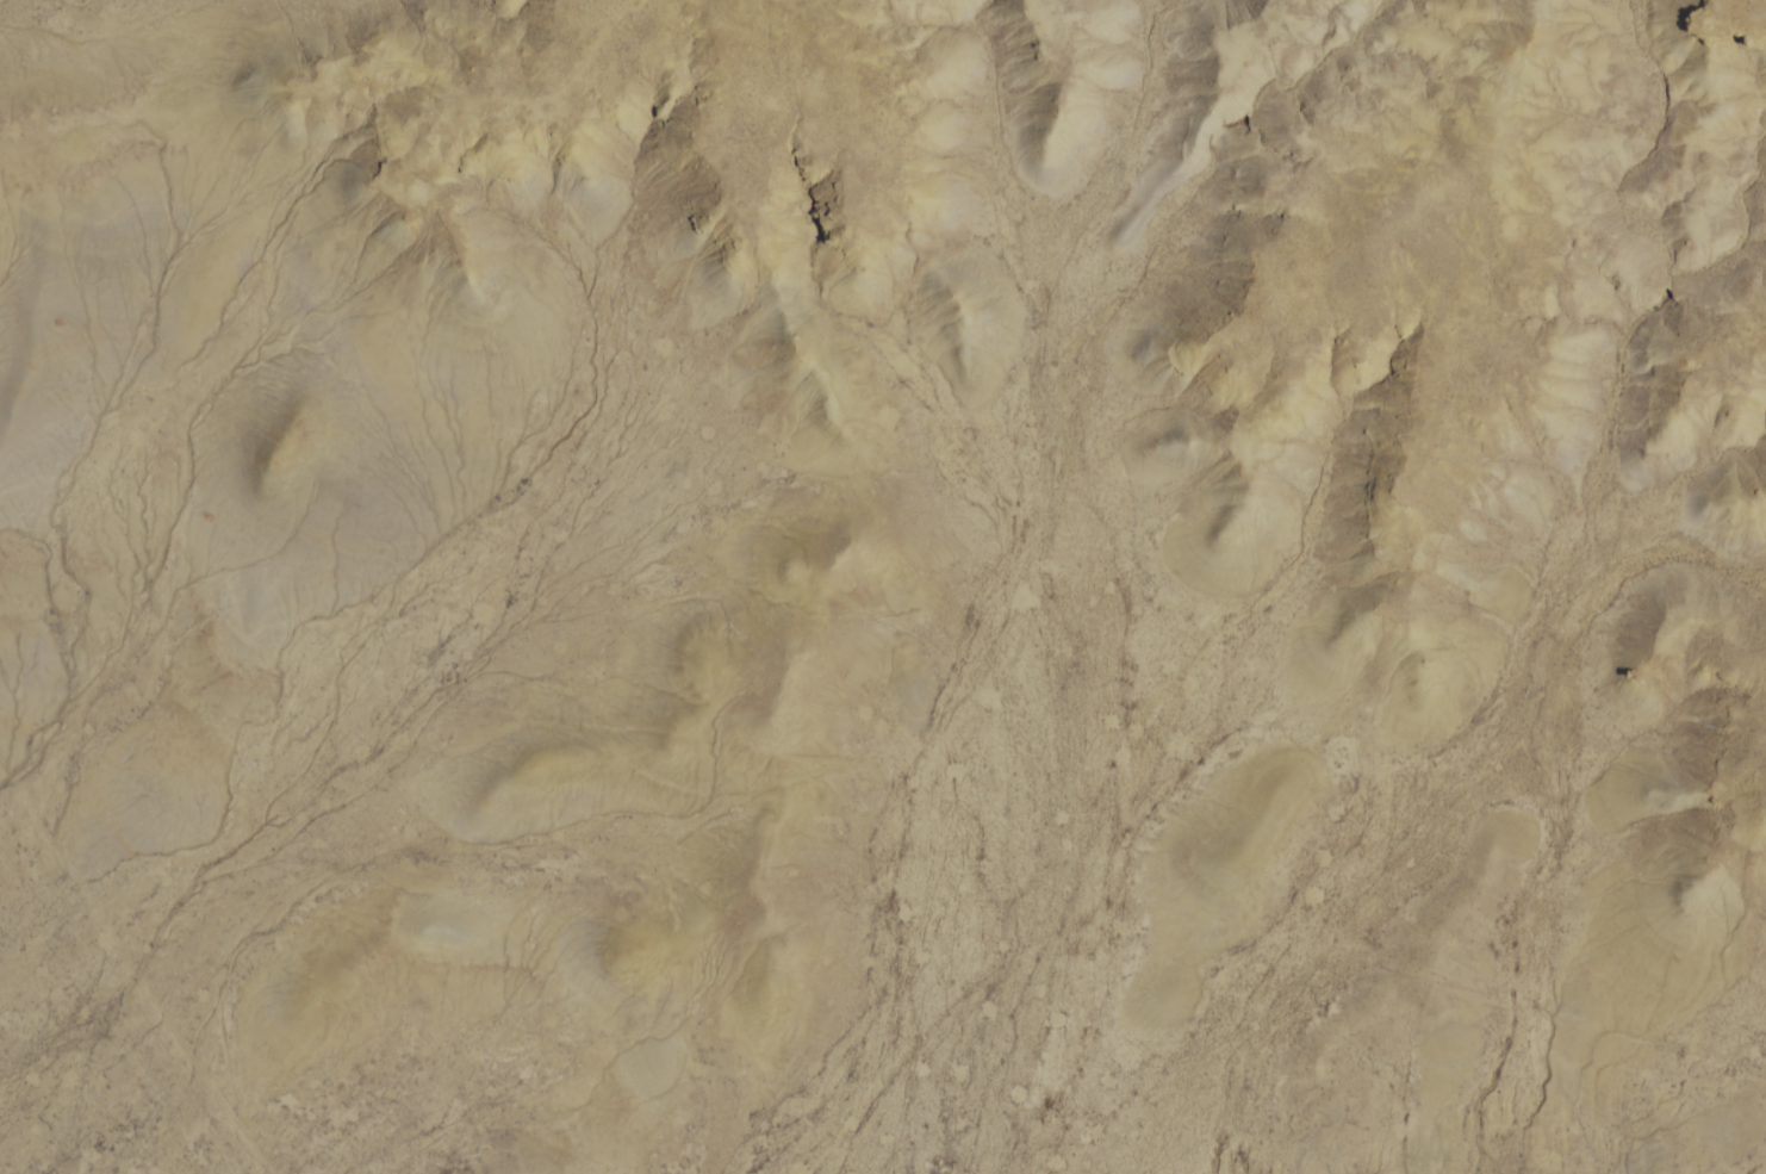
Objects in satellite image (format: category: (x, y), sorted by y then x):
road: (133, 973)

